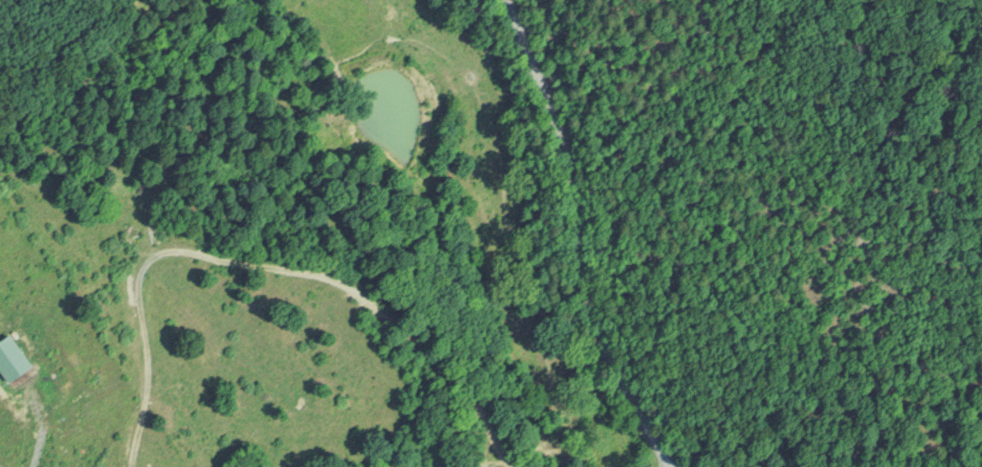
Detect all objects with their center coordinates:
road: (578, 237)

